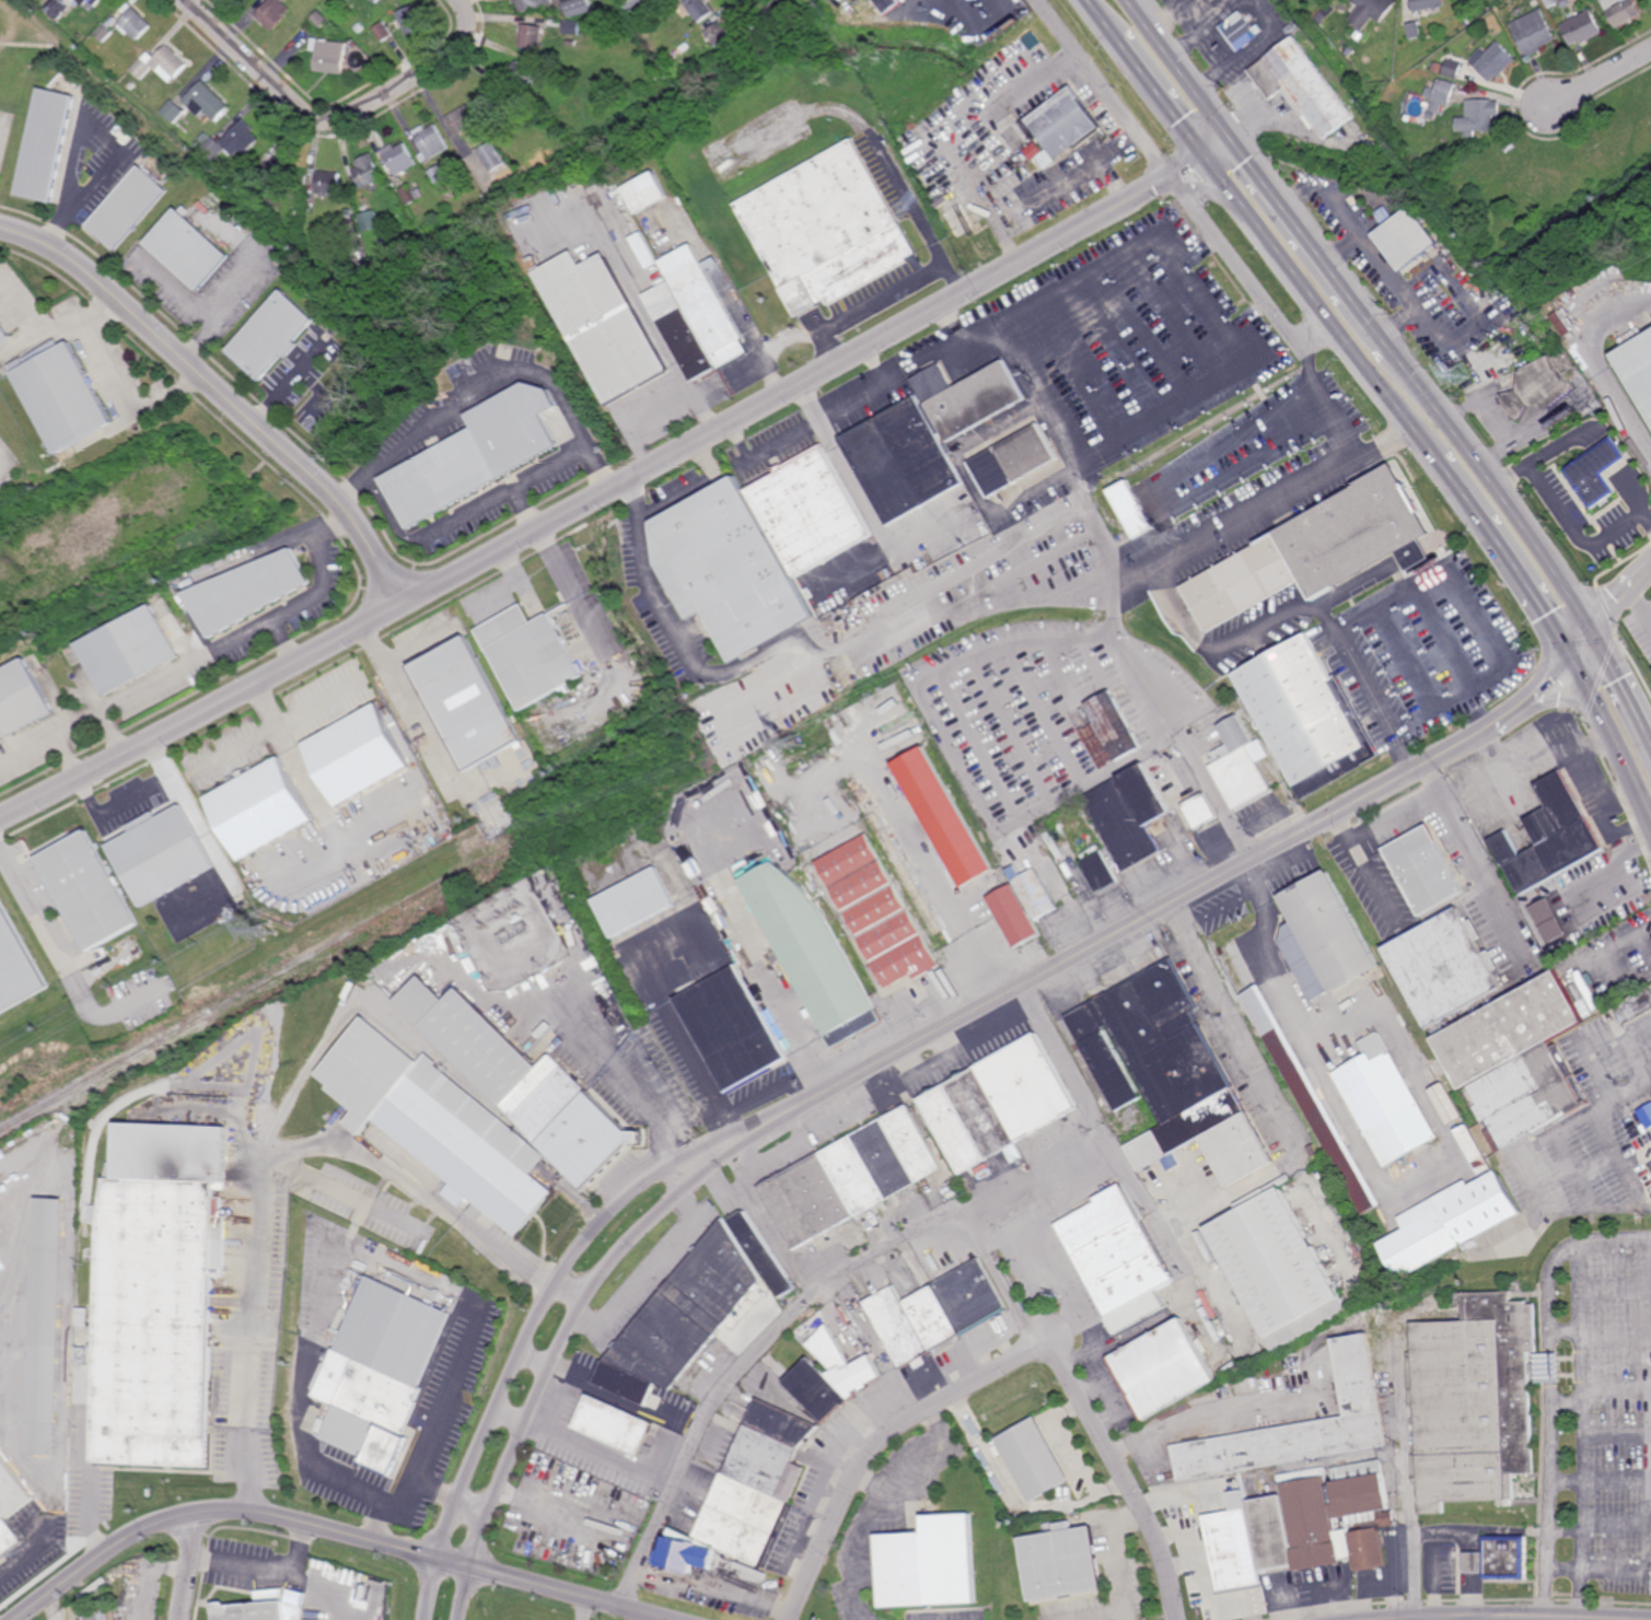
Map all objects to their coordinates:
building: (349, 0)
building: (349, 0)
building: (1602, 0)
building: (376, 1)
building: (938, 2)
building: (1551, 2)
building: (84, 3)
building: (531, 3)
road: (766, 3)
building: (632, 4)
building: (1428, 4)
building: (888, 5)
building: (580, 7)
building: (58, 8)
building: (1377, 8)
building: (698, 9)
building: (1623, 10)
building: (274, 13)
building: (410, 19)
building: (319, 20)
road: (1104, 20)
building: (1468, 21)
building: (135, 23)
building: (359, 27)
building: (571, 27)
building: (1581, 27)
building: (1242, 30)
building: (1415, 31)
building: (383, 32)
building: (104, 33)
building: (1533, 33)
building: (719, 34)
building: (533, 36)
building: (571, 43)
building: (687, 45)
building: (1346, 48)
building: (329, 56)
building: (1493, 61)
building: (161, 63)
building: (1438, 67)
building: (1453, 68)
road: (1182, 70)
building: (519, 75)
road: (1600, 75)
building: (1303, 86)
building: (1441, 91)
power tower: (1224, 97)
road: (1164, 98)
building: (490, 101)
building: (207, 102)
building: (173, 112)
building: (1433, 112)
building: (1478, 116)
building: (1065, 118)
road: (334, 119)
building: (461, 120)
road: (1252, 130)
building: (914, 135)
building: (205, 138)
building: (1445, 140)
building: (429, 141)
traffic signals: (1235, 141)
building: (232, 142)
building: (47, 143)
building: (198, 145)
building: (491, 156)
traffic signals: (1208, 156)
building: (399, 159)
building: (1040, 160)
building: (281, 171)
building: (367, 172)
building: (437, 174)
building: (328, 184)
building: (255, 186)
building: (644, 191)
building: (407, 194)
road: (905, 196)
building: (130, 205)
building: (629, 219)
building: (370, 221)
road: (1207, 225)
building: (827, 229)
building: (1407, 240)
building: (190, 245)
road: (1314, 245)
building: (644, 250)
road: (1179, 259)
road: (951, 279)
road: (864, 305)
road: (1323, 307)
power tower: (1390, 315)
building: (697, 316)
building: (1565, 320)
building: (600, 324)
building: (1181, 328)
building: (4, 333)
building: (276, 333)
road: (749, 333)
road: (1318, 336)
road: (1597, 368)
building: (1638, 370)
power tower: (1460, 376)
road: (114, 378)
road: (490, 382)
building: (1539, 389)
building: (63, 395)
road: (222, 395)
road: (701, 412)
road: (643, 420)
building: (926, 439)
road: (2, 450)
building: (1028, 455)
building: (1607, 455)
building: (469, 458)
road: (526, 478)
building: (1591, 479)
road: (620, 486)
road: (1497, 487)
road: (696, 489)
road: (1288, 497)
road: (863, 500)
road: (1468, 501)
building: (1131, 509)
building: (810, 512)
road: (388, 513)
road: (462, 513)
road: (1568, 521)
power tower: (1173, 535)
building: (1315, 549)
building: (723, 569)
road: (993, 585)
building: (248, 591)
road: (317, 592)
road: (569, 595)
road: (1618, 596)
road: (1536, 598)
road: (1639, 605)
traffic signals: (1591, 631)
road: (1349, 649)
building: (129, 650)
road: (1493, 651)
building: (531, 654)
traffic signals: (1570, 657)
road: (694, 669)
road: (163, 679)
road: (1621, 683)
building: (21, 700)
building: (467, 703)
road: (420, 706)
building: (1304, 715)
building: (1111, 730)
road: (115, 732)
road: (1612, 736)
power tower: (794, 745)
road: (27, 748)
building: (358, 755)
road: (67, 756)
road: (1125, 761)
building: (1240, 764)
road: (1536, 765)
road: (301, 773)
road: (1214, 793)
road: (1597, 795)
road: (132, 797)
building: (260, 809)
building: (1205, 811)
building: (947, 818)
building: (1126, 825)
road: (1623, 830)
building: (1551, 837)
building: (161, 855)
road: (1365, 867)
building: (1425, 871)
building: (86, 891)
building: (636, 905)
building: (1027, 906)
railway: (417, 909)
building: (881, 913)
road: (1148, 919)
power tower: (263, 931)
power substation: (512, 937)
building: (1327, 942)
building: (812, 952)
building: (15, 965)
road: (63, 965)
building: (1443, 969)
building: (1589, 989)
building: (1636, 1007)
road: (583, 1026)
building: (733, 1030)
road: (1241, 1032)
road: (681, 1034)
building: (1519, 1060)
building: (1171, 1073)
road: (304, 1077)
building: (523, 1084)
road: (1631, 1086)
road: (768, 1096)
building: (1385, 1099)
building: (1001, 1105)
building: (1449, 1105)
building: (1650, 1105)
road: (651, 1114)
building: (1647, 1116)
building: (438, 1122)
road: (729, 1131)
road: (1109, 1134)
road: (1549, 1134)
building: (1339, 1147)
building: (1475, 1147)
building: (851, 1177)
road: (422, 1181)
railway: (39, 1186)
road: (346, 1186)
road: (342, 1234)
building: (1495, 1235)
road: (1592, 1238)
road: (1043, 1246)
road: (1172, 1246)
building: (765, 1254)
building: (1121, 1256)
road: (658, 1260)
building: (1279, 1270)
road: (259, 1273)
road: (570, 1295)
road: (797, 1312)
building: (937, 1312)
road: (1548, 1312)
building: (85, 1316)
building: (683, 1317)
road: (1582, 1318)
building: (158, 1320)
building: (47, 1328)
building: (394, 1330)
building: (85, 1355)
road: (558, 1356)
building: (1167, 1367)
road: (1549, 1367)
road: (513, 1370)
building: (832, 1376)
road: (1551, 1390)
road: (1617, 1395)
road: (1568, 1397)
building: (1478, 1400)
building: (362, 1402)
building: (616, 1424)
building: (1304, 1425)
road: (879, 1444)
building: (1036, 1458)
road: (1126, 1475)
building: (1233, 1481)
building: (759, 1483)
road: (1598, 1484)
road: (1408, 1497)
road: (408, 1499)
building: (11, 1506)
road: (1583, 1507)
road: (1549, 1508)
road: (92, 1513)
building: (1305, 1525)
road: (336, 1530)
building: (689, 1554)
road: (102, 1555)
building: (1501, 1559)
building: (1065, 1562)
building: (929, 1564)
road: (190, 1565)
road: (1640, 1569)
road: (266, 1570)
road: (328, 1588)
road: (465, 1593)
road: (569, 1594)
building: (263, 1609)
building: (103, 1616)
road: (648, 1617)
road: (1481, 1617)
road: (1420, 1618)

